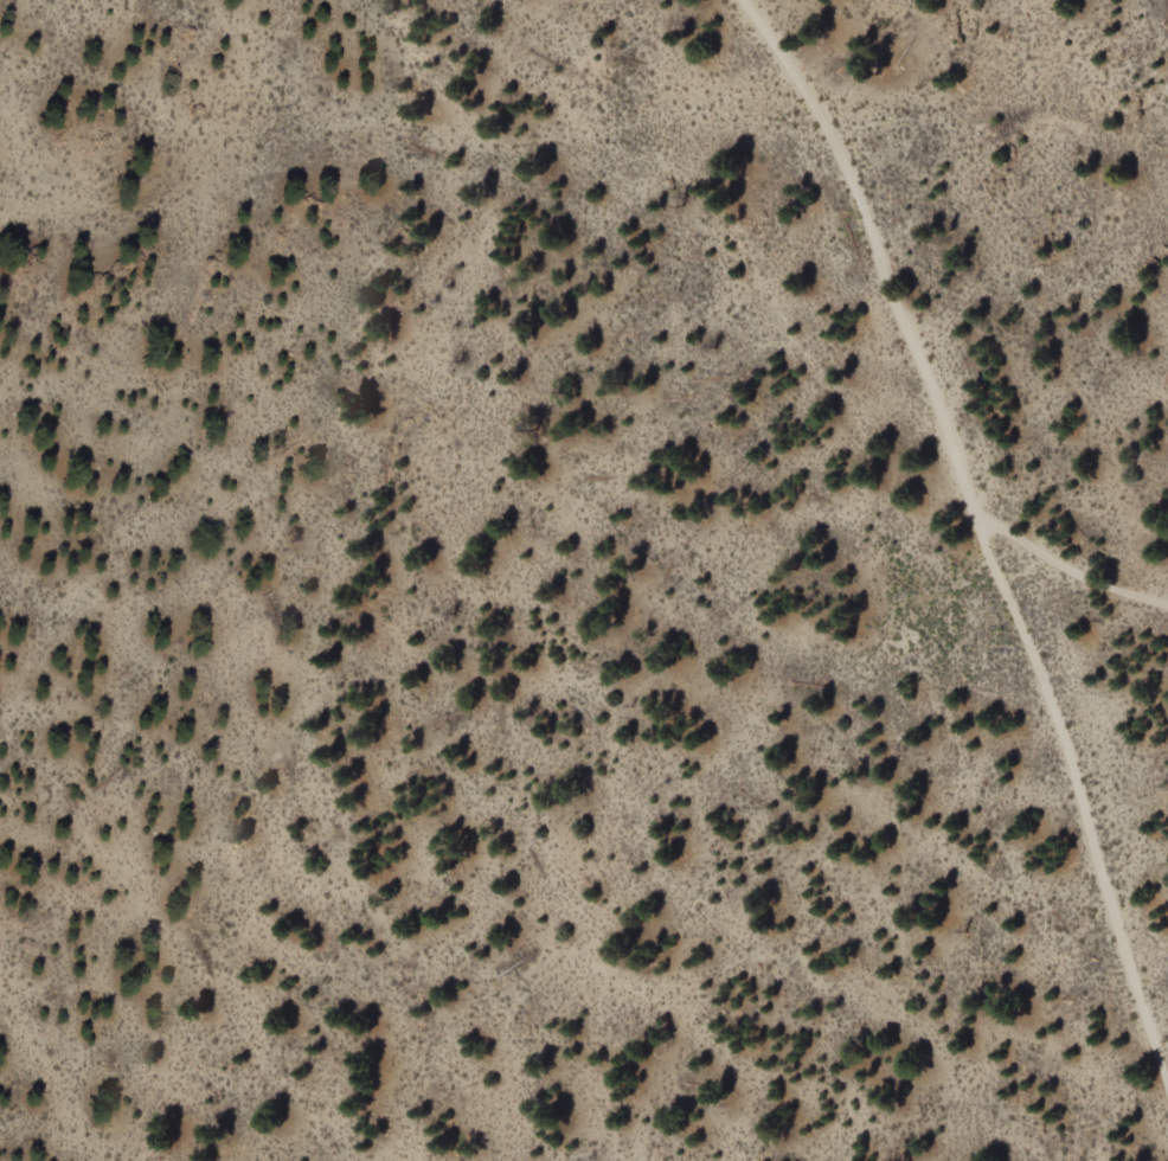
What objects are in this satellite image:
road: (924, 348)
road: (1074, 806)

